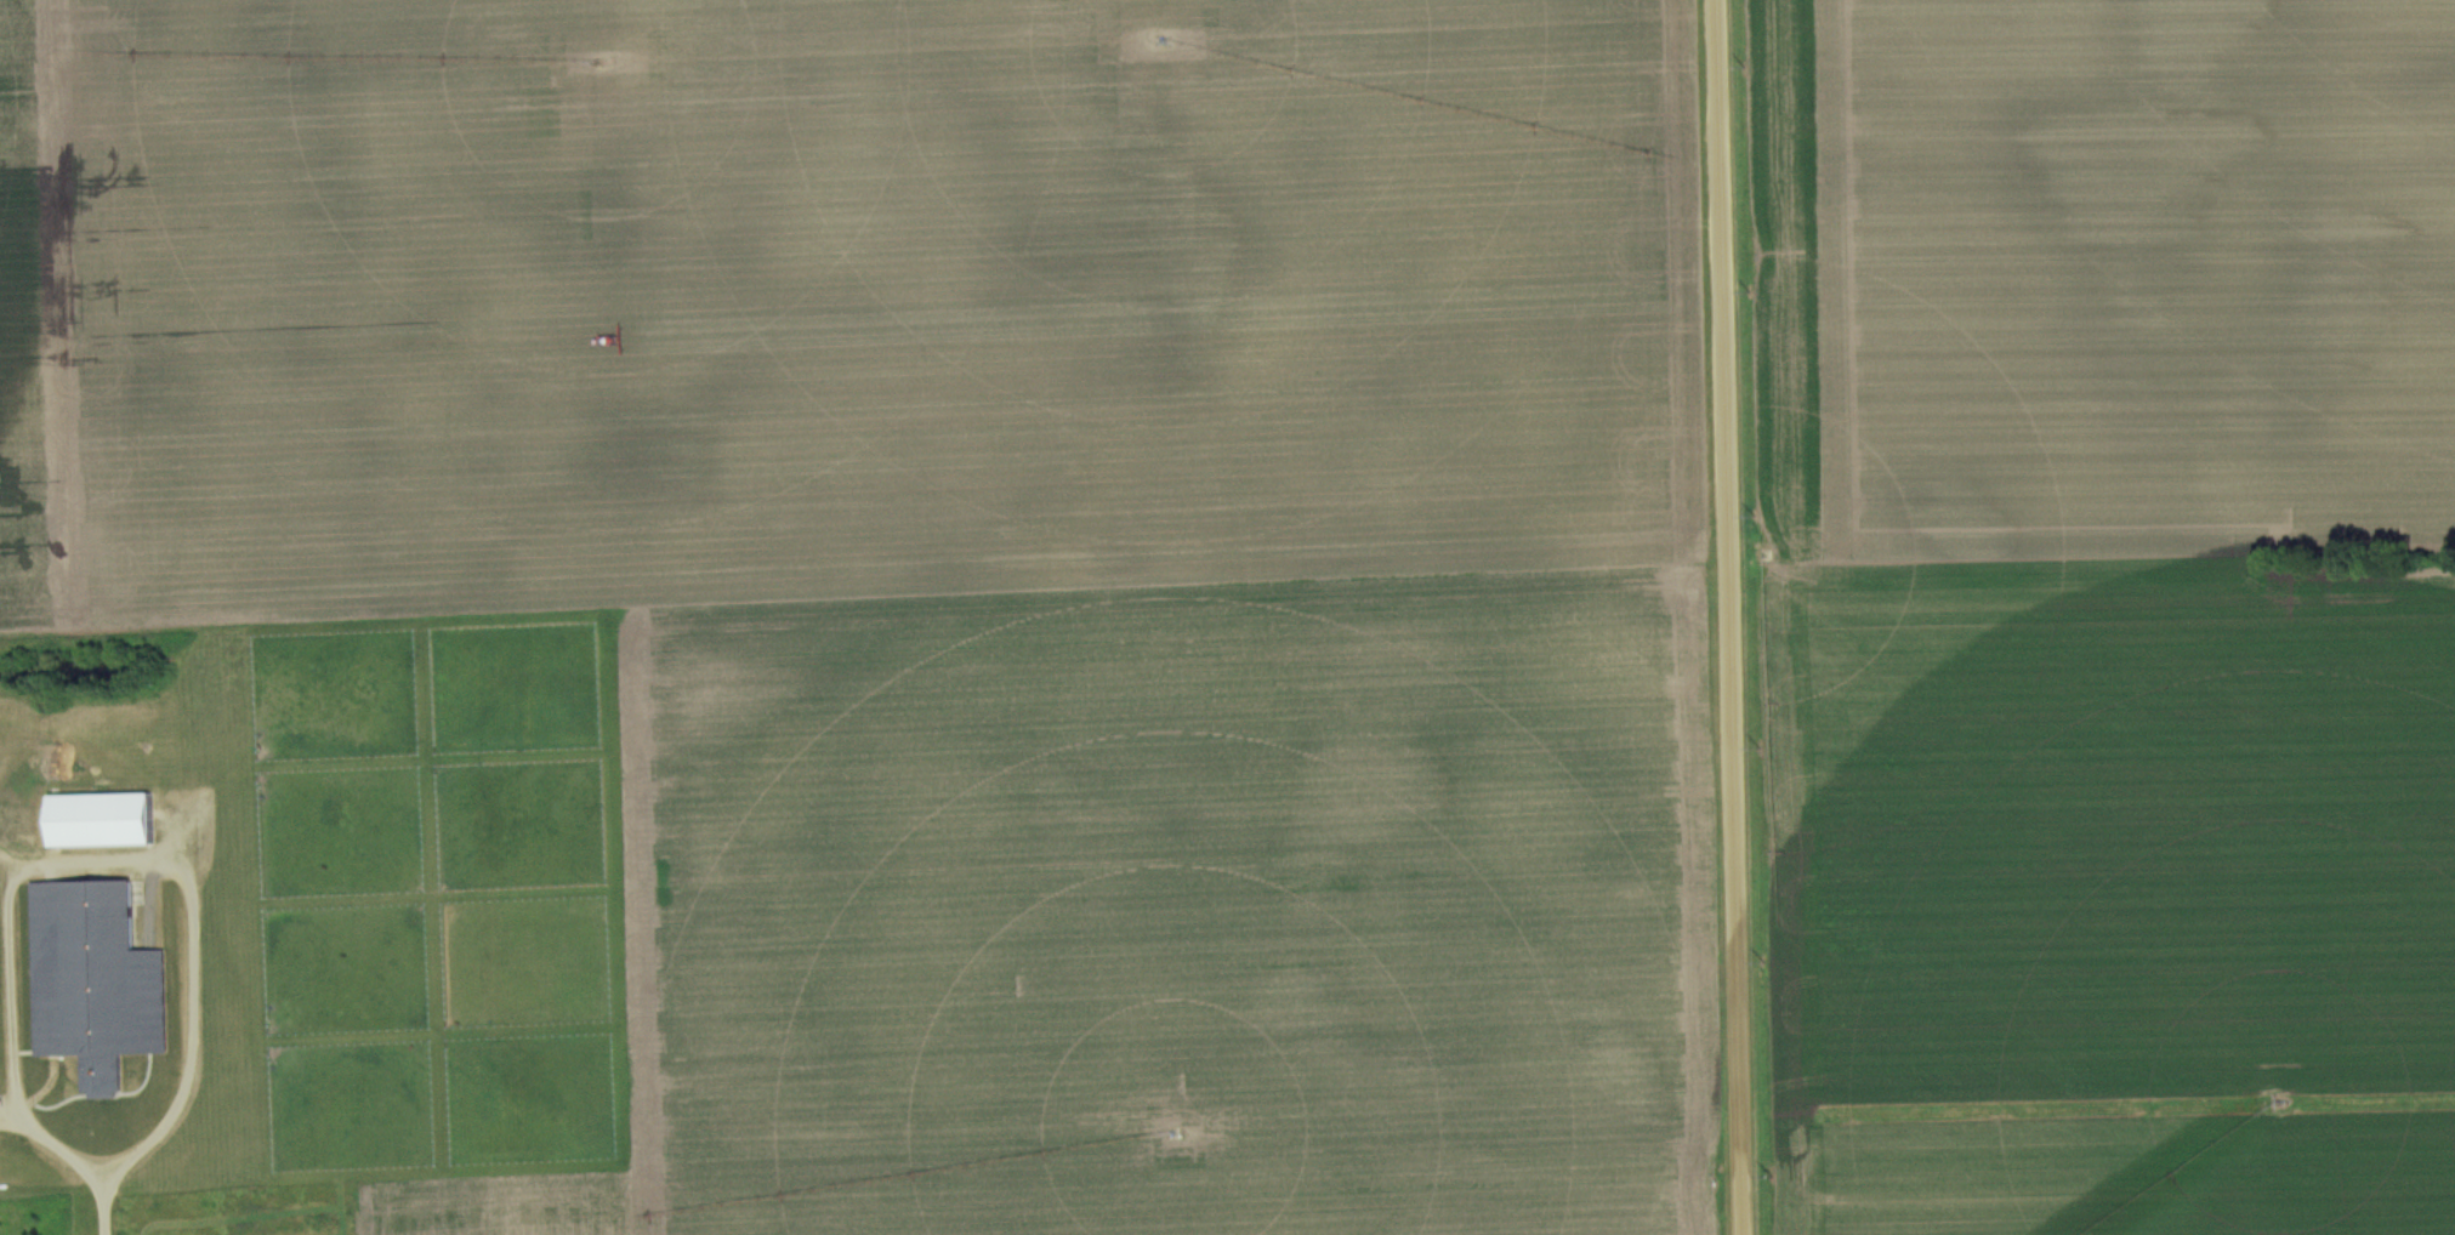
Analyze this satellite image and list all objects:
crop: (2143, 273)
crop: (863, 298)
crop: (42, 332)
road: (1724, 617)
building: (98, 816)
crop: (2087, 840)
road: (100, 860)
crop: (1166, 911)
building: (92, 978)
road: (95, 1205)
crop: (494, 1206)

